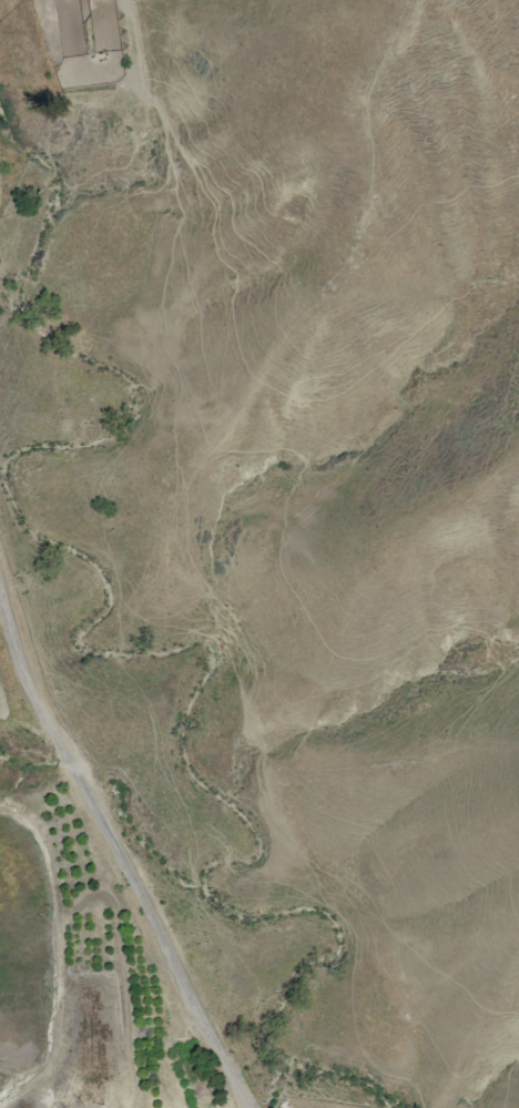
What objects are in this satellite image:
road: (118, 847)

